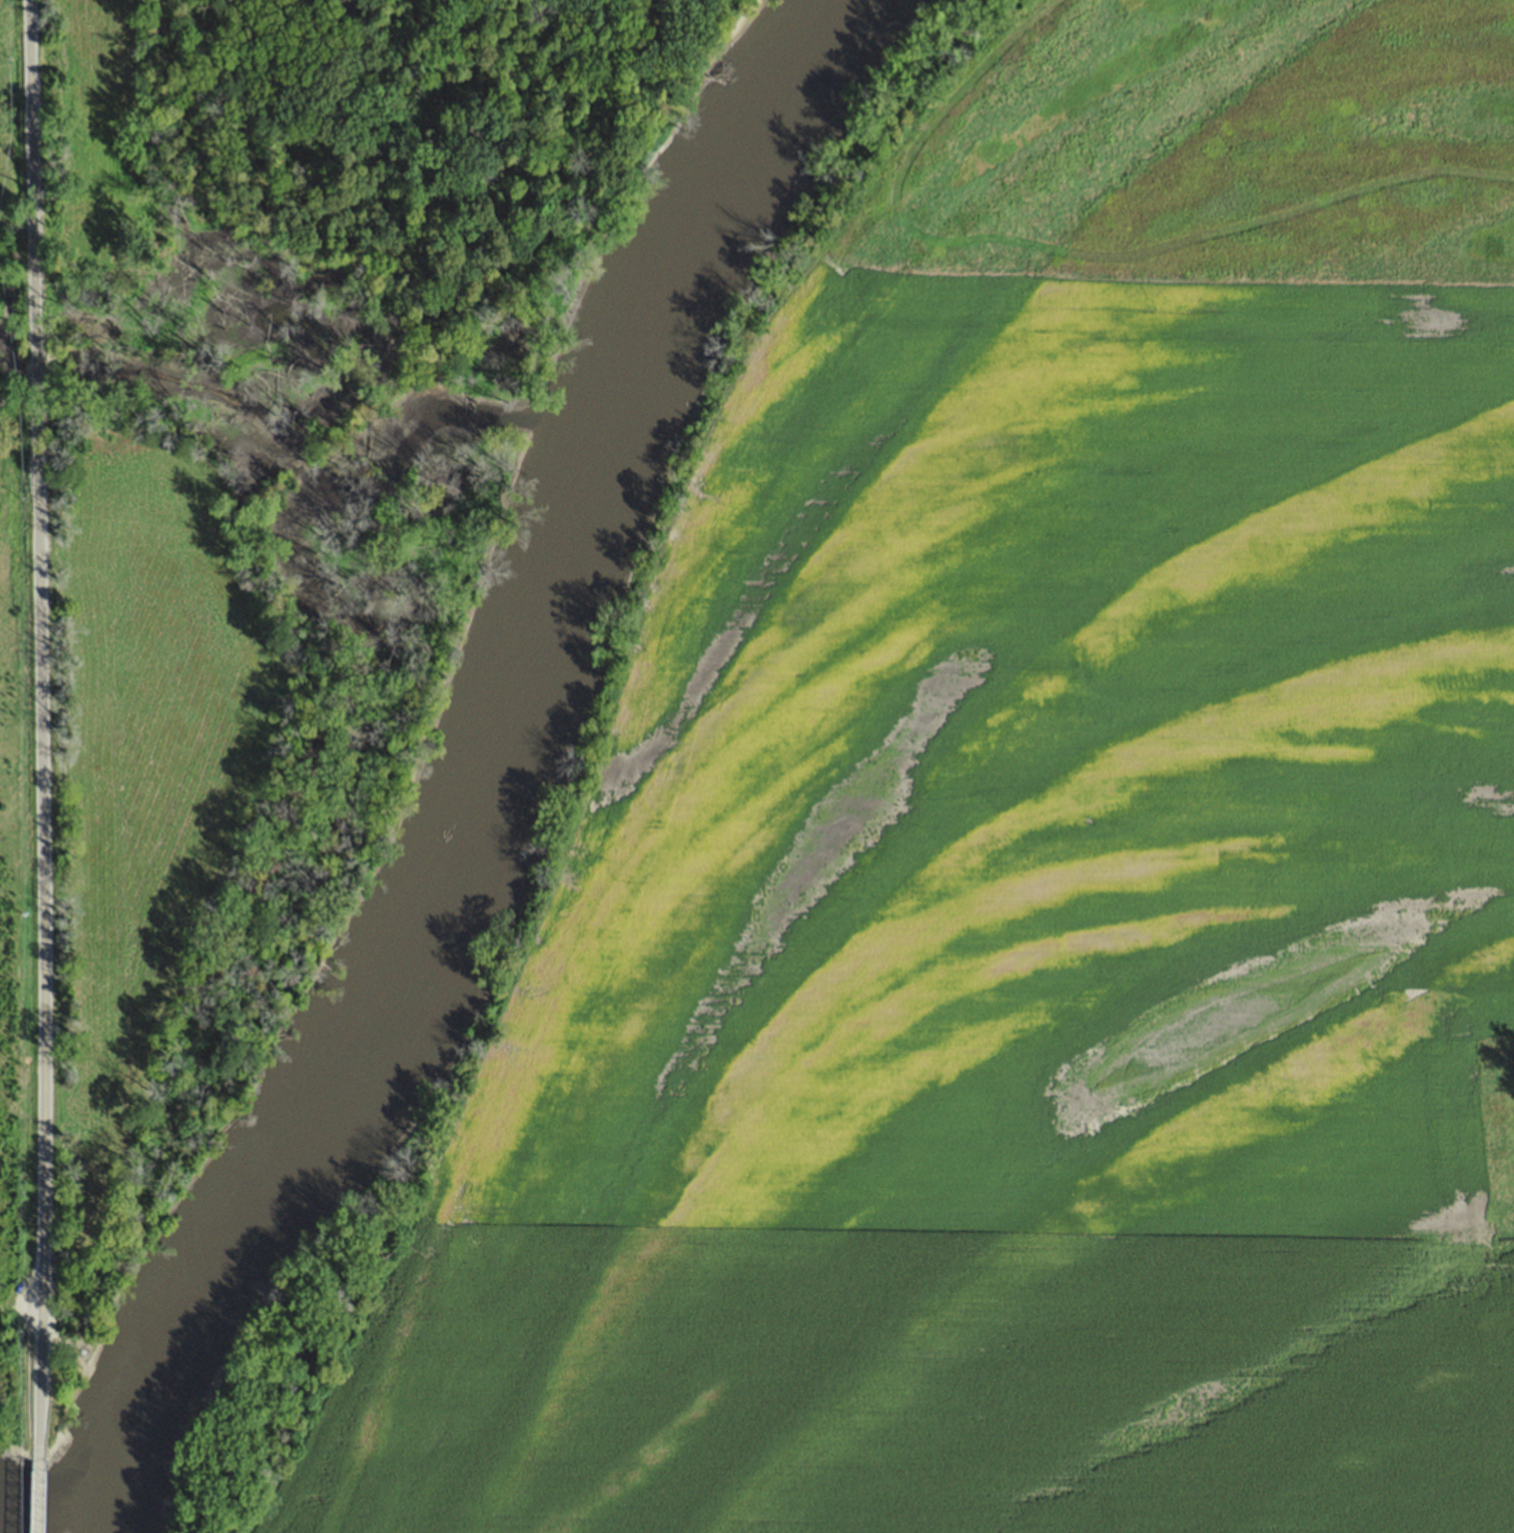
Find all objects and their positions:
road: (42, 720)
river: (490, 766)
road: (37, 1487)
river: (76, 1515)

